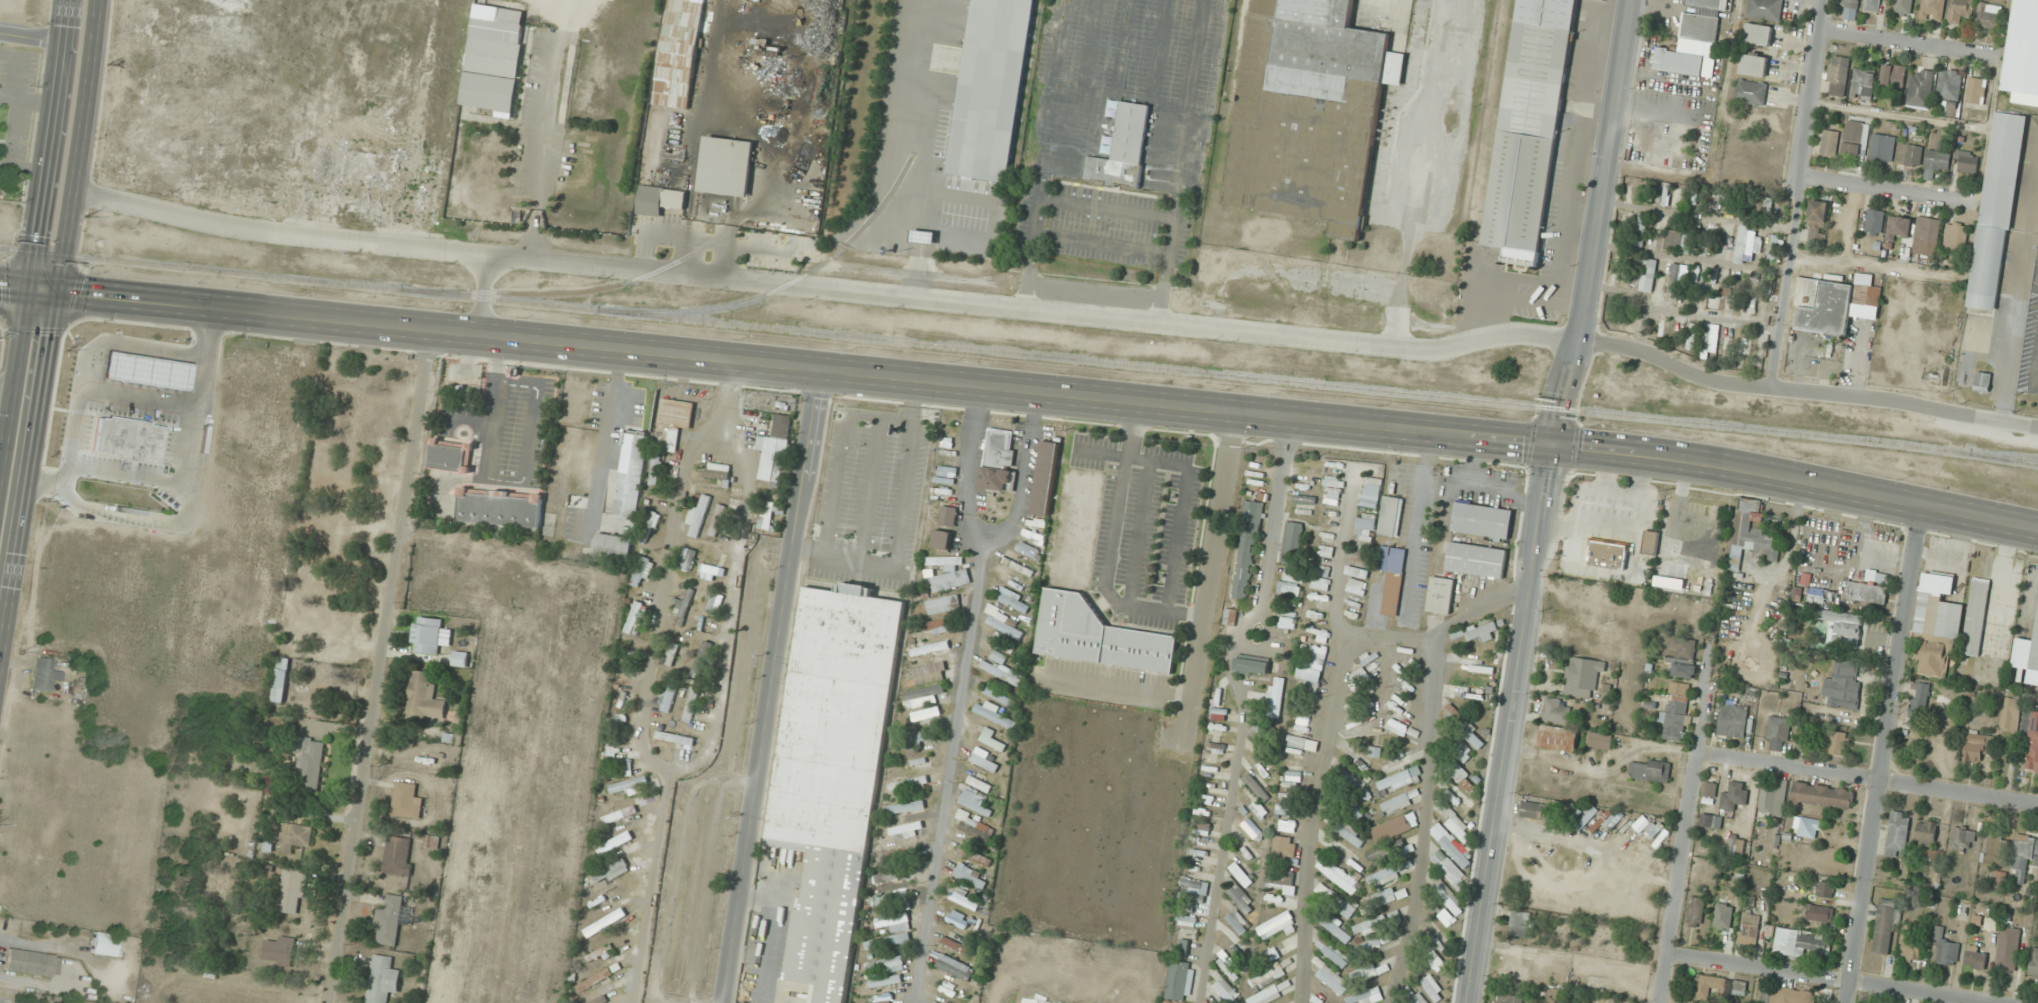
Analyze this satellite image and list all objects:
building: (1604, 0)
building: (1850, 3)
building: (1708, 4)
building: (1872, 5)
building: (1907, 5)
building: (1765, 9)
building: (1933, 9)
building: (1960, 9)
building: (1989, 15)
building: (1758, 34)
road: (30, 37)
road: (1903, 42)
building: (1689, 46)
building: (2024, 49)
building: (679, 54)
building: (495, 62)
building: (1753, 65)
building: (1837, 75)
building: (1893, 75)
building: (1862, 85)
building: (1920, 88)
building: (990, 89)
building: (1976, 90)
building: (1750, 92)
building: (1949, 93)
railway: (2033, 101)
building: (441, 108)
building: (1309, 111)
building: (1528, 129)
building: (1855, 139)
building: (1829, 143)
road: (46, 145)
road: (77, 146)
building: (1883, 147)
building: (1123, 149)
building: (1910, 154)
building: (1967, 161)
building: (1936, 163)
building: (726, 166)
building: (373, 169)
road: (1886, 191)
building: (1648, 194)
road: (1799, 194)
building: (1679, 195)
building: (659, 200)
building: (1714, 201)
building: (1995, 212)
building: (1874, 221)
road: (1595, 222)
building: (1816, 222)
building: (1898, 227)
building: (1641, 230)
building: (1926, 236)
building: (1955, 237)
building: (1680, 239)
building: (1747, 243)
building: (1774, 245)
railway: (652, 273)
building: (1612, 275)
building: (1650, 275)
building: (1675, 279)
railway: (782, 286)
road: (823, 286)
road: (13, 288)
traffic signals: (27, 290)
road: (41, 291)
traffic signals: (56, 293)
road: (486, 293)
building: (1730, 303)
building: (1833, 305)
building: (1692, 337)
building: (1724, 340)
railway: (1019, 353)
building: (1847, 366)
road: (804, 367)
building: (143, 371)
road: (13, 379)
building: (1982, 381)
road: (1804, 391)
building: (671, 423)
building: (126, 438)
traffic signals: (1552, 444)
building: (775, 448)
road: (842, 451)
building: (453, 454)
railway: (2004, 455)
building: (998, 460)
building: (656, 470)
building: (716, 471)
road: (965, 471)
building: (632, 474)
road: (28, 478)
building: (1045, 478)
road: (1796, 479)
building: (1333, 487)
road: (872, 488)
building: (1370, 492)
parking lot: (870, 499)
building: (1304, 499)
building: (1611, 506)
building: (501, 508)
building: (767, 512)
building: (698, 515)
building: (948, 516)
building: (1390, 516)
building: (1482, 519)
building: (717, 520)
road: (898, 520)
building: (649, 526)
building: (1365, 527)
building: (1752, 535)
building: (941, 539)
building: (1291, 542)
building: (1650, 542)
building: (614, 546)
building: (1246, 549)
building: (1027, 551)
building: (1327, 552)
building: (1607, 554)
building: (1361, 556)
building: (687, 558)
building: (1392, 559)
building: (1476, 559)
building: (1703, 564)
building: (643, 566)
building: (711, 570)
building: (1357, 571)
building: (948, 574)
building: (1013, 581)
building: (1291, 581)
building: (1320, 584)
building: (1356, 587)
building: (1867, 593)
building: (1441, 594)
building: (1817, 596)
building: (684, 602)
building: (1013, 602)
building: (1391, 604)
building: (943, 605)
building: (1229, 617)
building: (635, 618)
building: (1975, 620)
building: (1004, 623)
building: (1287, 623)
building: (1937, 625)
building: (940, 626)
building: (1842, 627)
building: (1482, 631)
building: (1318, 633)
building: (432, 635)
building: (846, 636)
building: (1098, 636)
road: (1384, 642)
building: (931, 648)
building: (1685, 648)
building: (1001, 649)
building: (2034, 657)
building: (462, 659)
building: (701, 660)
building: (1251, 665)
road: (382, 666)
building: (1475, 667)
building: (1313, 669)
building: (1684, 669)
building: (930, 672)
building: (1001, 673)
building: (45, 675)
building: (1582, 676)
building: (1358, 677)
building: (282, 679)
building: (1844, 684)
road: (771, 686)
building: (1679, 689)
road: (962, 691)
building: (1468, 694)
building: (425, 695)
building: (670, 695)
building: (923, 696)
building: (1000, 697)
building: (1275, 697)
building: (1919, 700)
building: (692, 705)
road: (1242, 706)
building: (1556, 711)
building: (929, 713)
building: (994, 714)
building: (2011, 714)
building: (1733, 719)
building: (1675, 720)
road: (1507, 723)
building: (1352, 724)
building: (1463, 726)
building: (1397, 727)
building: (1778, 731)
building: (920, 737)
building: (676, 738)
building: (1558, 738)
building: (991, 739)
building: (1600, 740)
building: (1302, 743)
building: (1838, 743)
building: (2033, 743)
building: (1978, 746)
building: (1460, 749)
building: (1375, 751)
road: (1885, 754)
building: (312, 762)
building: (826, 762)
building: (984, 762)
building: (920, 763)
building: (1649, 770)
building: (1457, 772)
road: (1869, 778)
building: (1400, 779)
building: (1353, 780)
building: (909, 784)
building: (979, 784)
building: (630, 785)
building: (1710, 789)
building: (1735, 795)
building: (1823, 795)
building: (1773, 798)
building: (1459, 799)
building: (407, 800)
building: (1397, 802)
building: (975, 806)
building: (1288, 810)
building: (1535, 810)
building: (620, 815)
building: (1613, 820)
building: (1711, 820)
building: (1201, 827)
building: (1395, 827)
building: (1808, 827)
building: (1459, 829)
building: (1252, 830)
building: (1898, 834)
building: (1352, 835)
building: (294, 838)
building: (1963, 839)
building: (1451, 845)
building: (1284, 846)
building: (1737, 846)
building: (1997, 849)
building: (1389, 851)
building: (902, 852)
building: (1247, 853)
building: (399, 855)
building: (974, 856)
building: (2024, 856)
building: (1350, 858)
building: (610, 869)
building: (1337, 873)
building: (1241, 874)
building: (1385, 875)
building: (902, 877)
road: (1679, 877)
building: (1279, 886)
building: (1825, 889)
building: (292, 891)
building: (1193, 891)
building: (965, 898)
building: (1241, 898)
building: (1383, 898)
building: (1449, 898)
building: (900, 900)
building: (1335, 900)
building: (1695, 912)
building: (1819, 913)
building: (1394, 916)
building: (1185, 919)
building: (390, 921)
building: (605, 922)
building: (895, 922)
building: (1238, 922)
building: (824, 923)
building: (1276, 925)
building: (1370, 925)
building: (1520, 925)
building: (1885, 927)
building: (1335, 928)
building: (1749, 928)
building: (1912, 939)
building: (888, 941)
building: (1801, 943)
building: (954, 944)
building: (104, 945)
building: (1370, 946)
building: (1946, 947)
building: (1183, 948)
building: (2008, 949)
building: (279, 950)
building: (1273, 952)
building: (1332, 952)
building: (600, 953)
building: (1976, 956)
building: (1435, 961)
building: (32, 963)
building: (1232, 963)
building: (886, 964)
building: (955, 967)
building: (1513, 969)
building: (1369, 971)
building: (1267, 976)
road: (1827, 978)
building: (383, 979)
building: (1332, 979)
building: (1178, 980)
building: (594, 981)
building: (886, 981)
building: (1719, 986)
building: (1431, 989)
building: (951, 990)
building: (1226, 990)
building: (1272, 991)
building: (1366, 996)
building: (1788, 996)
building: (1417, 998)
building: (1509, 998)
building: (601, 1000)
building: (936, 1002)
building: (1219, 1002)

